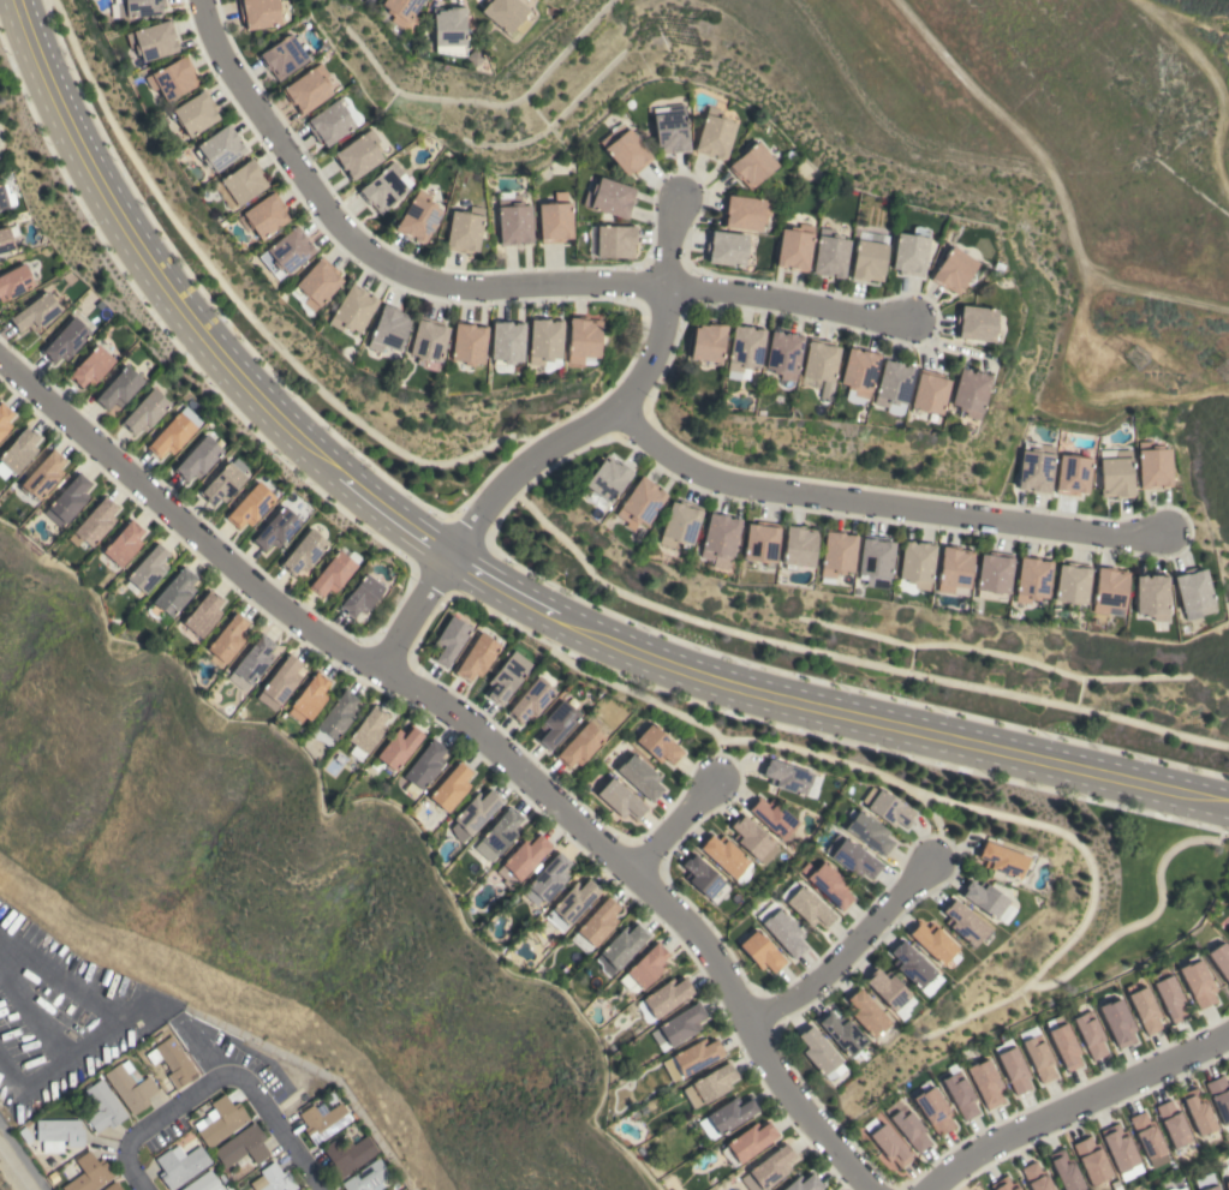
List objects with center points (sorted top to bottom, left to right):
building: (133, 7)
building: (400, 10)
building: (505, 12)
building: (258, 13)
building: (448, 30)
building: (151, 41)
building: (282, 56)
building: (172, 78)
building: (308, 89)
building: (195, 114)
building: (329, 124)
building: (670, 128)
building: (715, 136)
building: (219, 149)
building: (626, 149)
building: (359, 155)
building: (752, 165)
building: (243, 181)
building: (384, 186)
building: (610, 197)
building: (2, 198)
building: (745, 213)
building: (266, 215)
building: (418, 217)
building: (513, 221)
building: (555, 221)
building: (464, 229)
building: (5, 239)
building: (611, 240)
building: (726, 247)
building: (794, 247)
building: (286, 251)
building: (911, 251)
building: (830, 253)
building: (869, 258)
building: (954, 270)
building: (13, 281)
building: (315, 285)
road: (487, 287)
building: (352, 310)
building: (35, 312)
building: (976, 323)
building: (388, 329)
building: (583, 339)
building: (65, 340)
building: (544, 340)
building: (706, 341)
building: (506, 342)
building: (428, 343)
building: (467, 343)
building: (744, 349)
building: (783, 354)
building: (819, 360)
power tower: (1143, 361)
building: (91, 366)
building: (858, 371)
building: (893, 383)
building: (119, 388)
building: (970, 391)
building: (929, 393)
building: (145, 411)
building: (4, 418)
building: (174, 432)
road: (560, 444)
building: (17, 452)
building: (197, 459)
building: (1153, 465)
building: (1036, 466)
building: (1116, 473)
building: (1073, 474)
building: (43, 476)
building: (607, 478)
building: (225, 482)
building: (67, 501)
building: (639, 503)
road: (881, 504)
building: (250, 506)
building: (94, 524)
building: (679, 525)
building: (276, 530)
building: (718, 539)
building: (760, 542)
building: (123, 544)
building: (798, 546)
building: (303, 552)
building: (837, 554)
building: (875, 560)
building: (915, 563)
building: (149, 568)
building: (955, 570)
building: (333, 574)
road: (502, 574)
building: (994, 575)
building: (1032, 579)
building: (1072, 582)
building: (1110, 591)
building: (1194, 591)
building: (174, 592)
road: (484, 593)
building: (360, 596)
building: (1152, 596)
building: (202, 614)
building: (227, 639)
building: (449, 640)
building: (476, 657)
building: (253, 659)
building: (507, 677)
building: (280, 682)
building: (309, 698)
building: (531, 700)
building: (338, 716)
building: (556, 724)
building: (597, 725)
road: (478, 730)
building: (366, 731)
building: (579, 745)
building: (658, 745)
building: (399, 747)
building: (425, 765)
building: (640, 777)
building: (786, 777)
building: (451, 785)
building: (621, 799)
building: (887, 807)
building: (473, 814)
building: (772, 817)
road: (675, 826)
building: (867, 831)
building: (499, 833)
building: (753, 839)
building: (723, 855)
building: (852, 856)
building: (1002, 859)
building: (521, 860)
building: (700, 875)
building: (547, 879)
building: (829, 884)
building: (985, 898)
building: (571, 904)
building: (806, 905)
building: (1004, 914)
building: (965, 923)
building: (595, 926)
building: (782, 928)
building: (1228, 933)
building: (933, 943)
building: (620, 947)
building: (760, 951)
road: (849, 952)
building: (1221, 959)
building: (911, 963)
building: (644, 967)
building: (1198, 983)
building: (890, 991)
building: (667, 995)
building: (1170, 998)
building: (1146, 1010)
building: (866, 1012)
building: (1118, 1022)
building: (679, 1025)
building: (841, 1033)
building: (1091, 1035)
building: (1064, 1042)
building: (819, 1053)
building: (692, 1058)
building: (1039, 1059)
building: (172, 1060)
building: (1014, 1070)
building: (986, 1082)
building: (709, 1084)
building: (130, 1086)
building: (960, 1094)
building: (1219, 1096)
road: (263, 1101)
building: (102, 1106)
road: (1075, 1107)
building: (935, 1110)
building: (1200, 1113)
building: (726, 1116)
building: (220, 1120)
building: (323, 1120)
building: (908, 1124)
building: (1174, 1124)
building: (59, 1134)
building: (1147, 1135)
building: (748, 1141)
road: (135, 1142)
building: (243, 1146)
building: (890, 1146)
building: (1121, 1150)
building: (348, 1154)
building: (1092, 1160)
building: (180, 1165)
building: (769, 1168)
building: (1066, 1171)
building: (88, 1173)
building: (368, 1177)
building: (1036, 1177)
building: (276, 1178)
building: (1207, 1182)
building: (203, 1183)
building: (804, 1183)
building: (1003, 1184)
building: (1227, 1184)
building: (113, 1186)
building: (1179, 1189)

